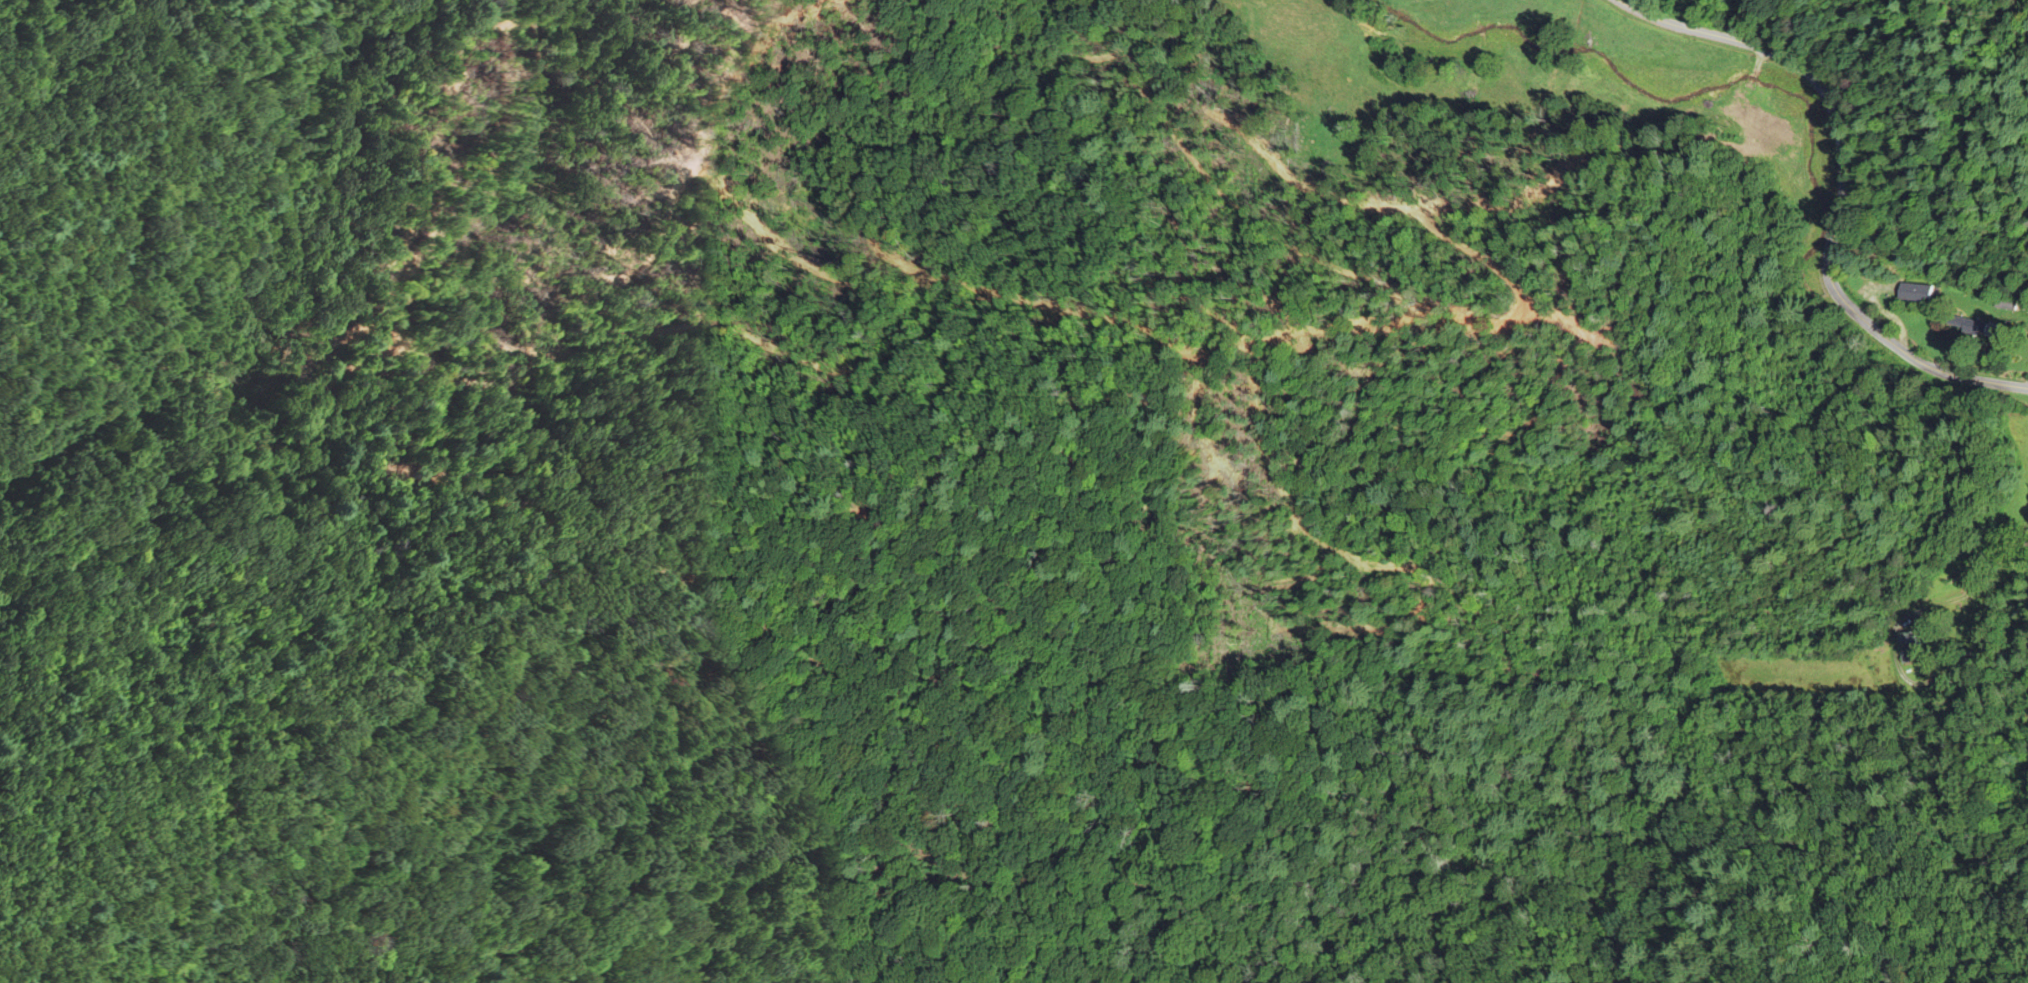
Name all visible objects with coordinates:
road: (1838, 190)
building: (1914, 292)
building: (2004, 302)
building: (1908, 647)

